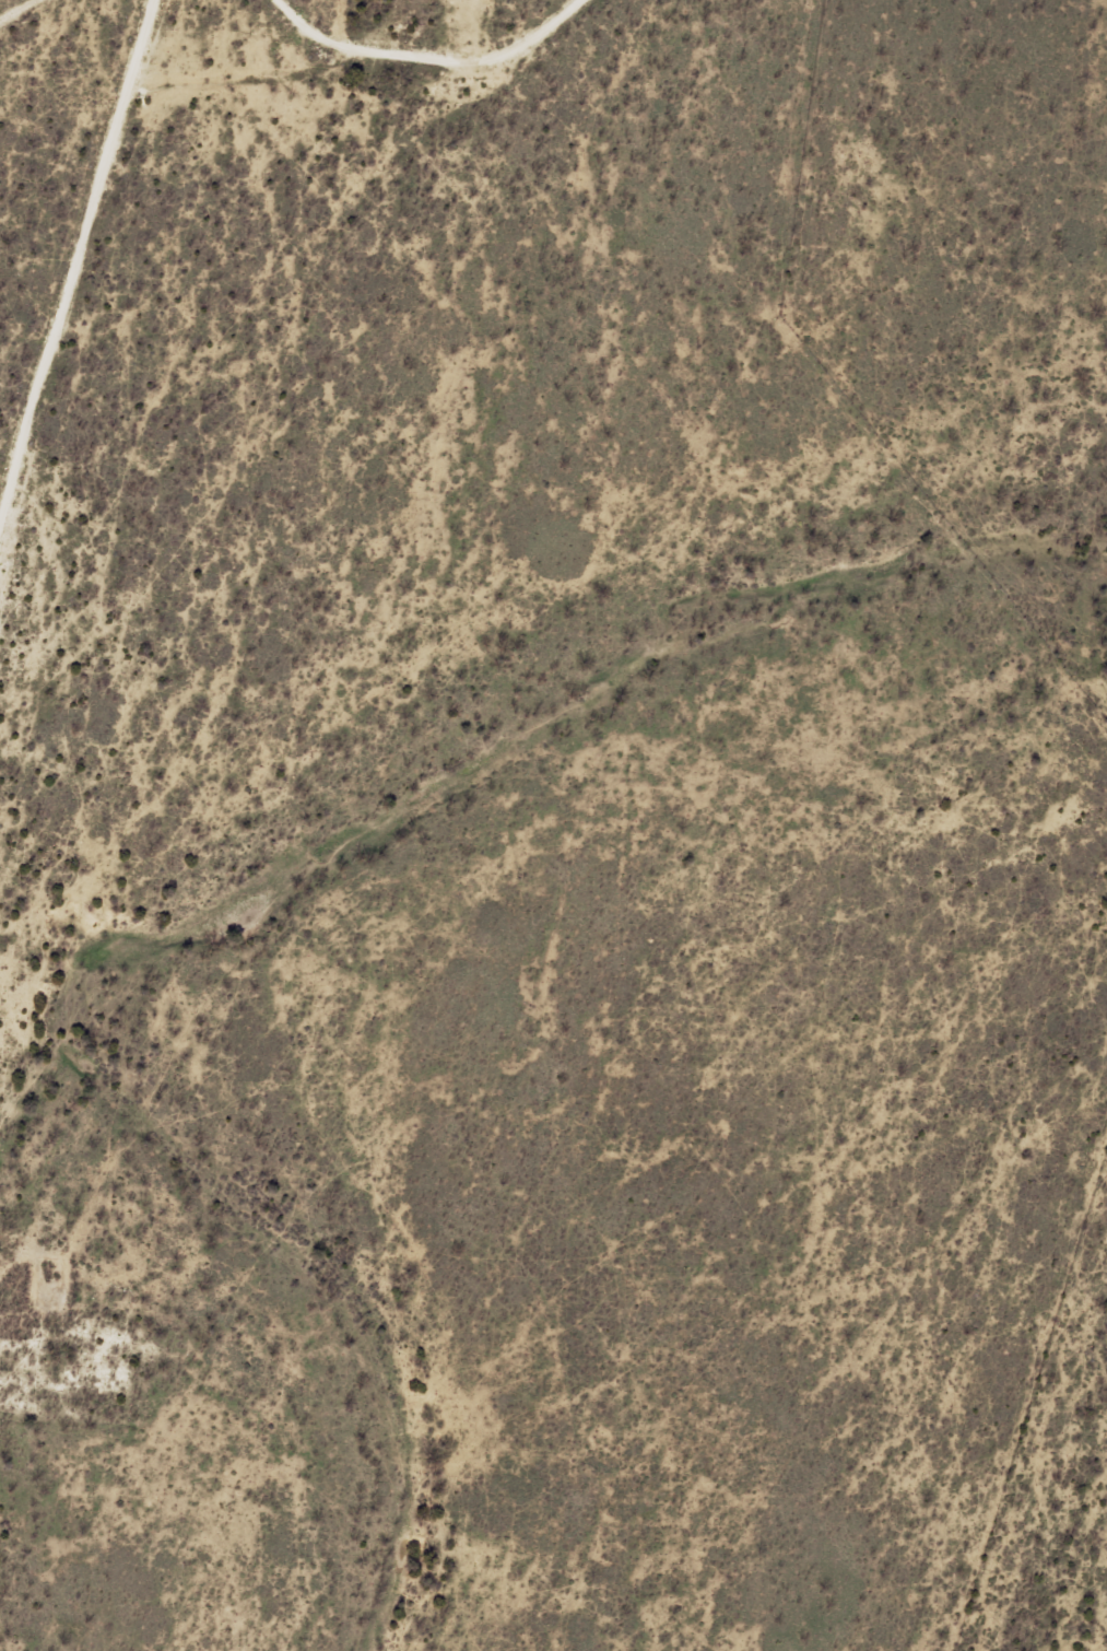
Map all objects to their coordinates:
road: (122, 49)
road: (137, 91)

